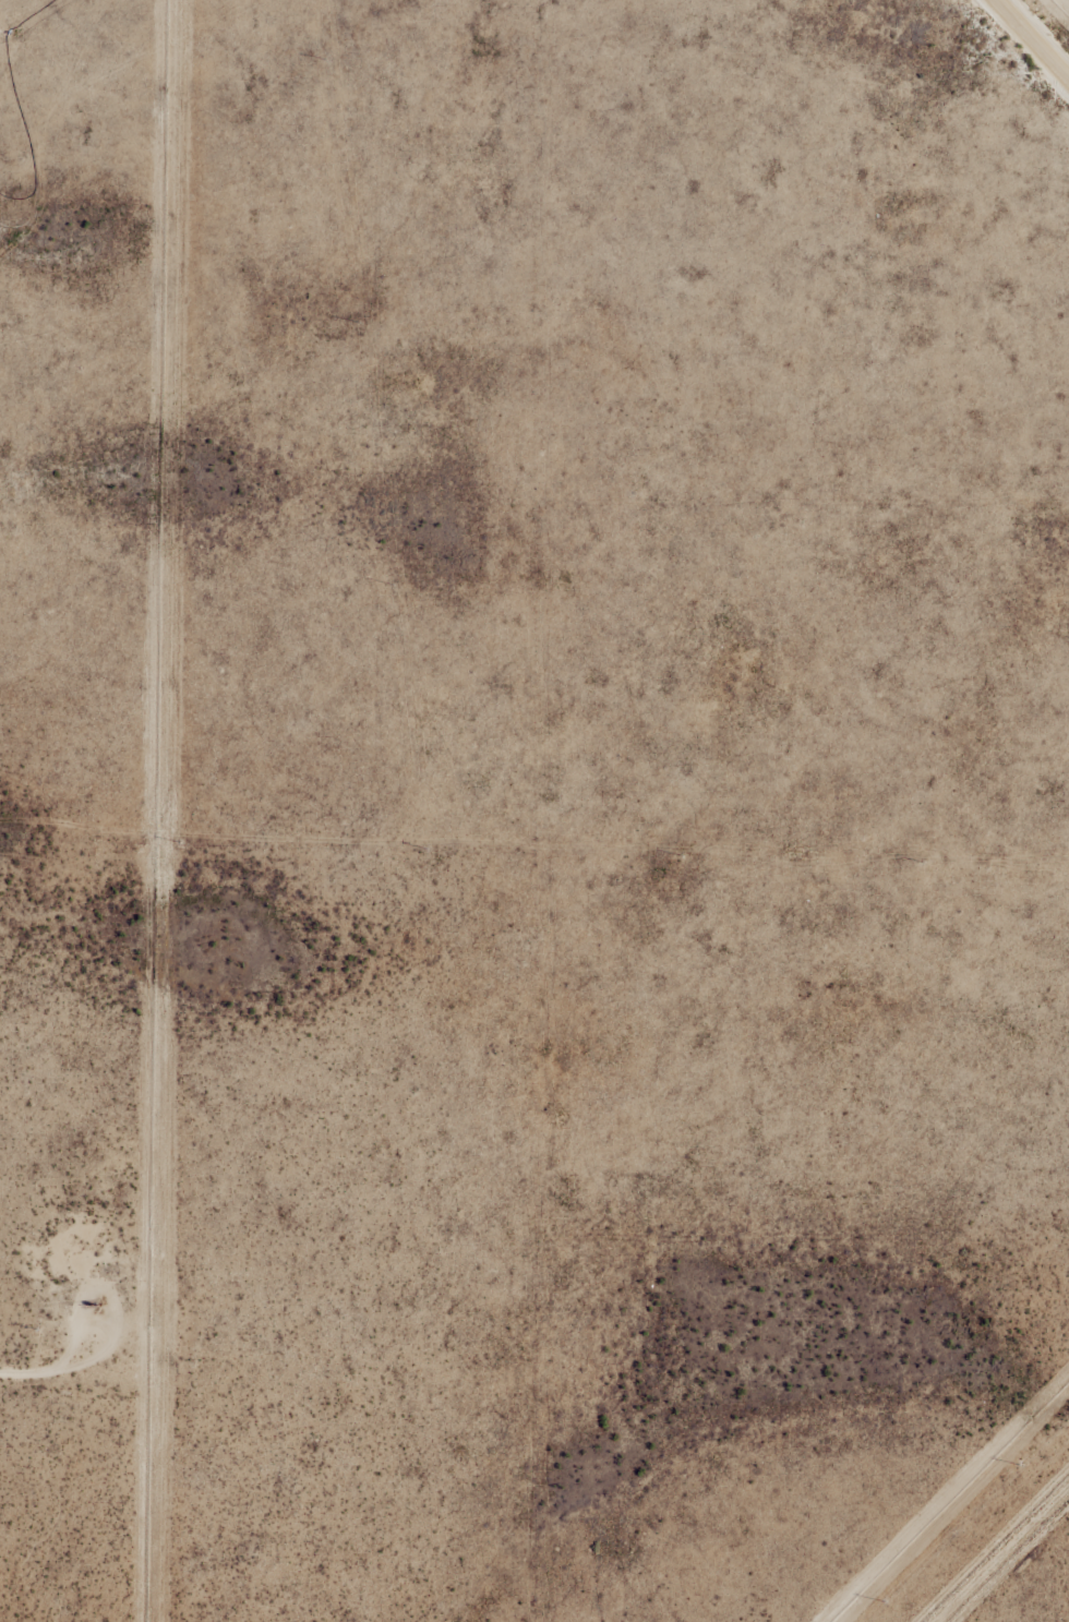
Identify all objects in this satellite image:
road: (1034, 37)
road: (25, 1365)

